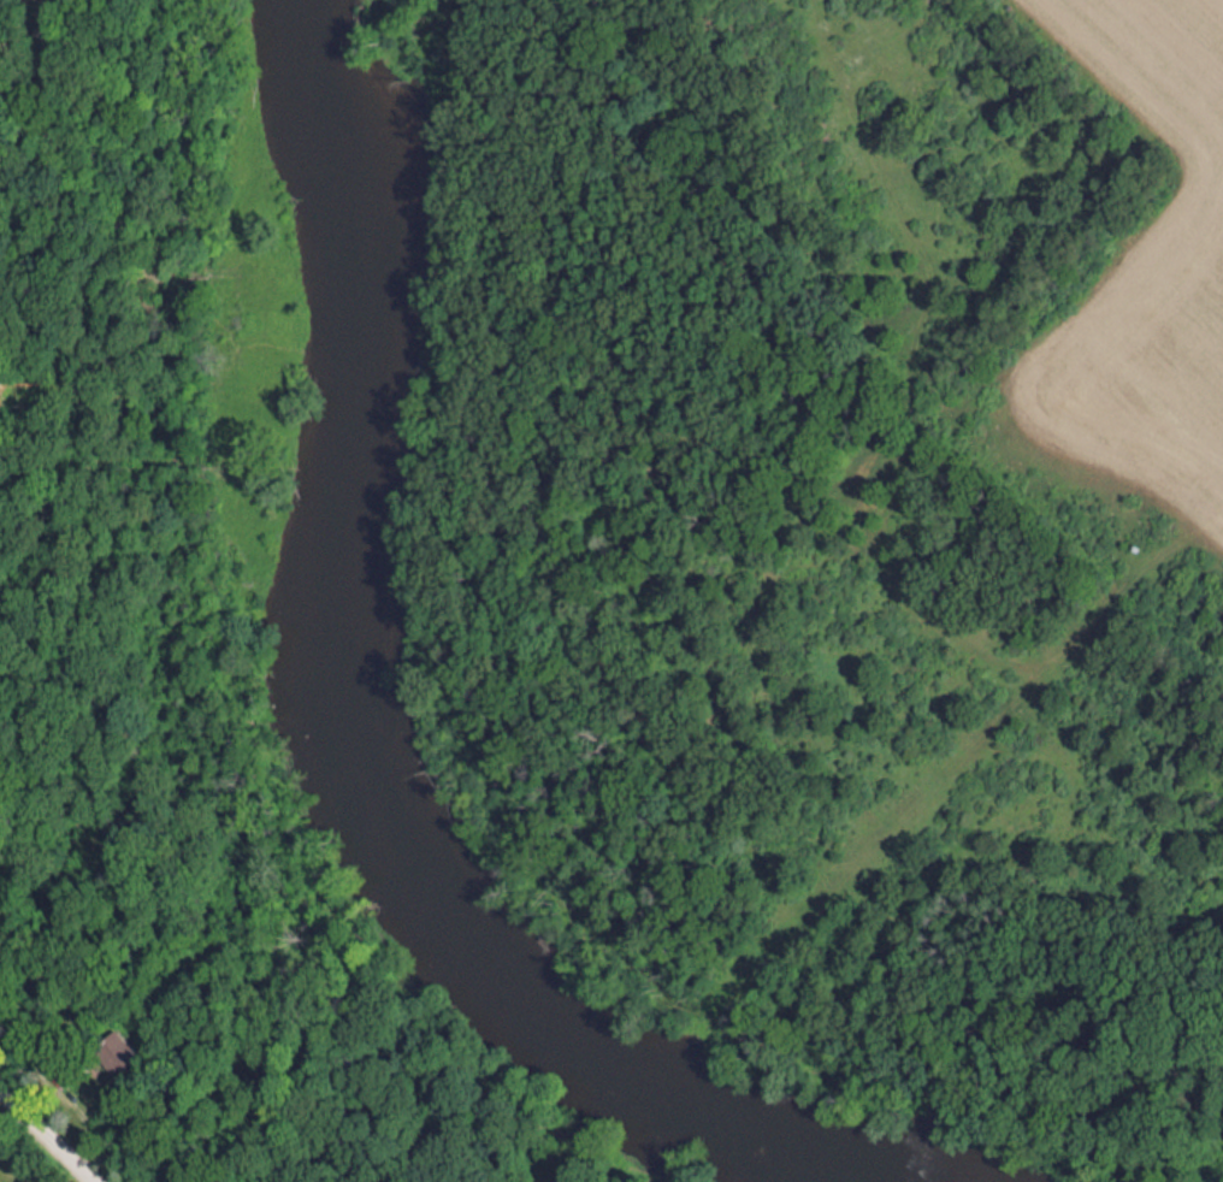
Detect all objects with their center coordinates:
crop: (1147, 279)
river: (344, 734)
road: (49, 1134)

